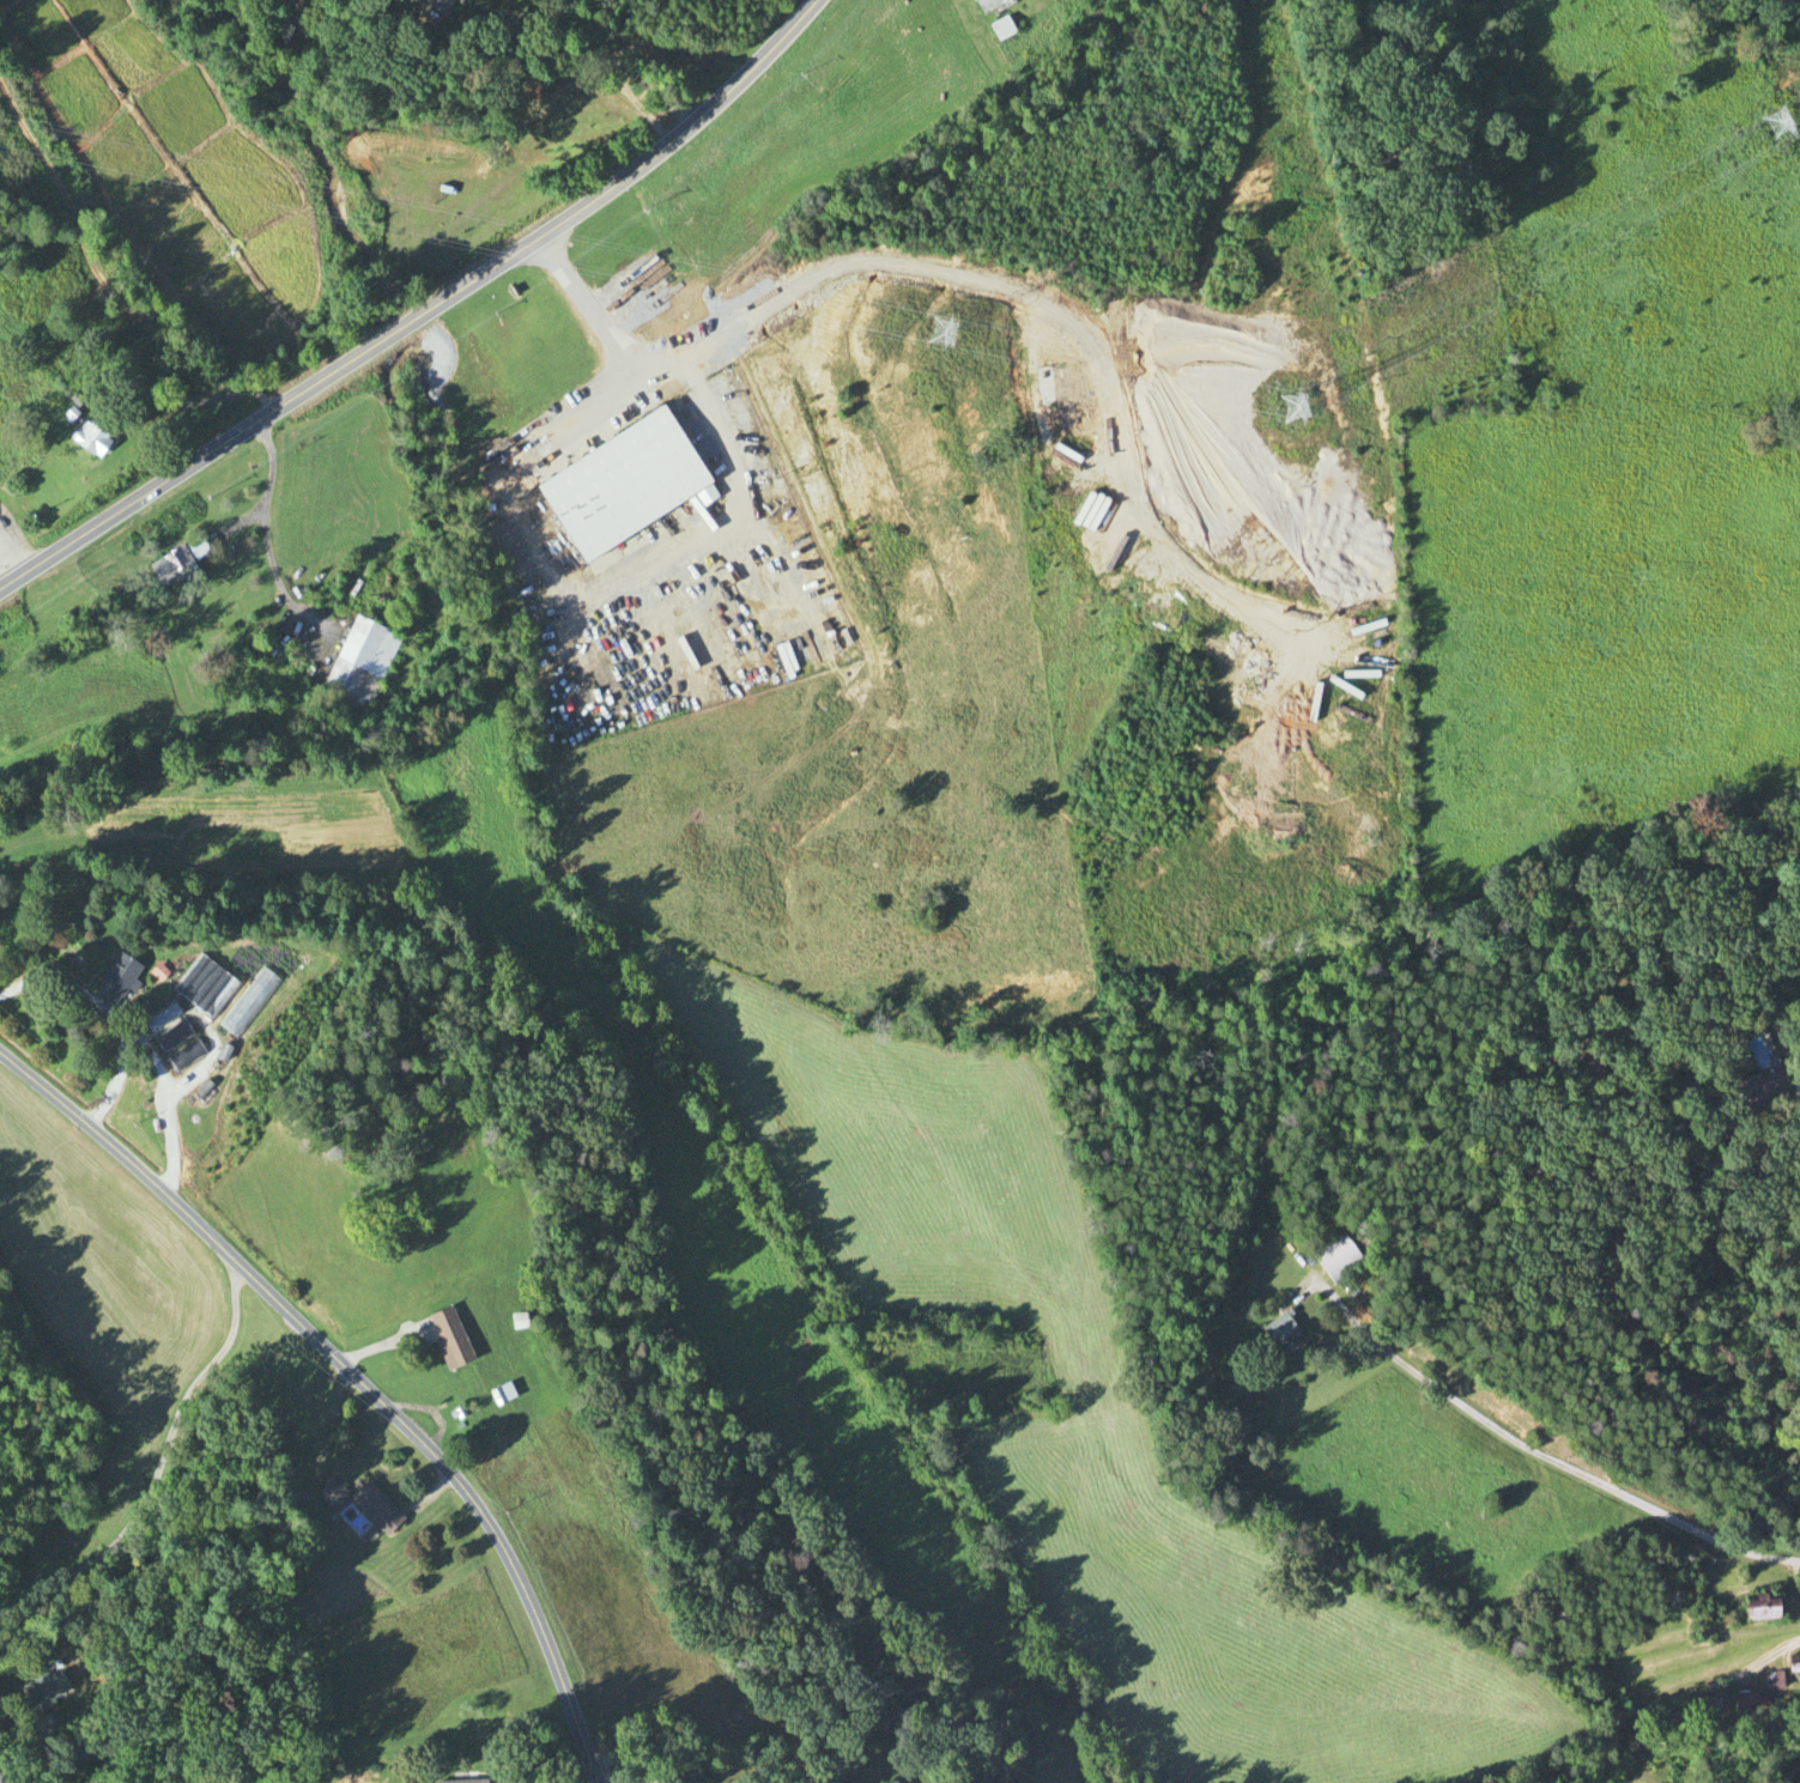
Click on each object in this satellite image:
building: (982, 4)
building: (1000, 29)
power tower: (1777, 121)
road: (636, 169)
road: (396, 332)
power tower: (940, 333)
road: (616, 364)
power tower: (1292, 407)
building: (86, 439)
road: (181, 472)
building: (620, 484)
building: (174, 565)
building: (358, 665)
building: (111, 983)
building: (201, 989)
building: (246, 1003)
building: (164, 1030)
building: (183, 1057)
building: (1768, 1088)
building: (1335, 1260)
building: (515, 1320)
building: (1277, 1332)
building: (447, 1336)
road: (352, 1379)
building: (499, 1393)
road: (170, 1408)
road: (1529, 1449)
building: (359, 1503)
building: (1758, 1608)
building: (1794, 1664)
building: (1771, 1681)
building: (40, 1687)
building: (1749, 1703)
building: (457, 1781)
building: (891, 1782)

